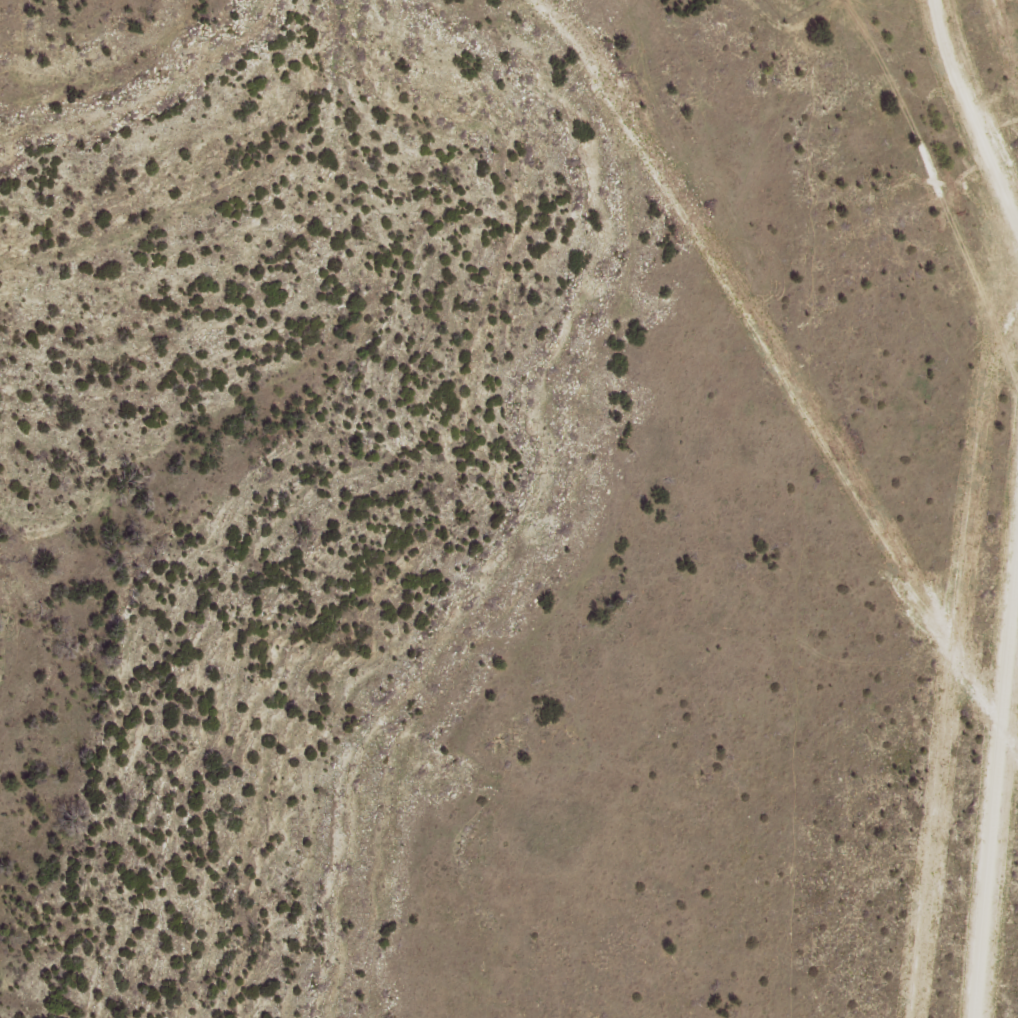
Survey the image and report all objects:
road: (832, 19)
road: (954, 100)

